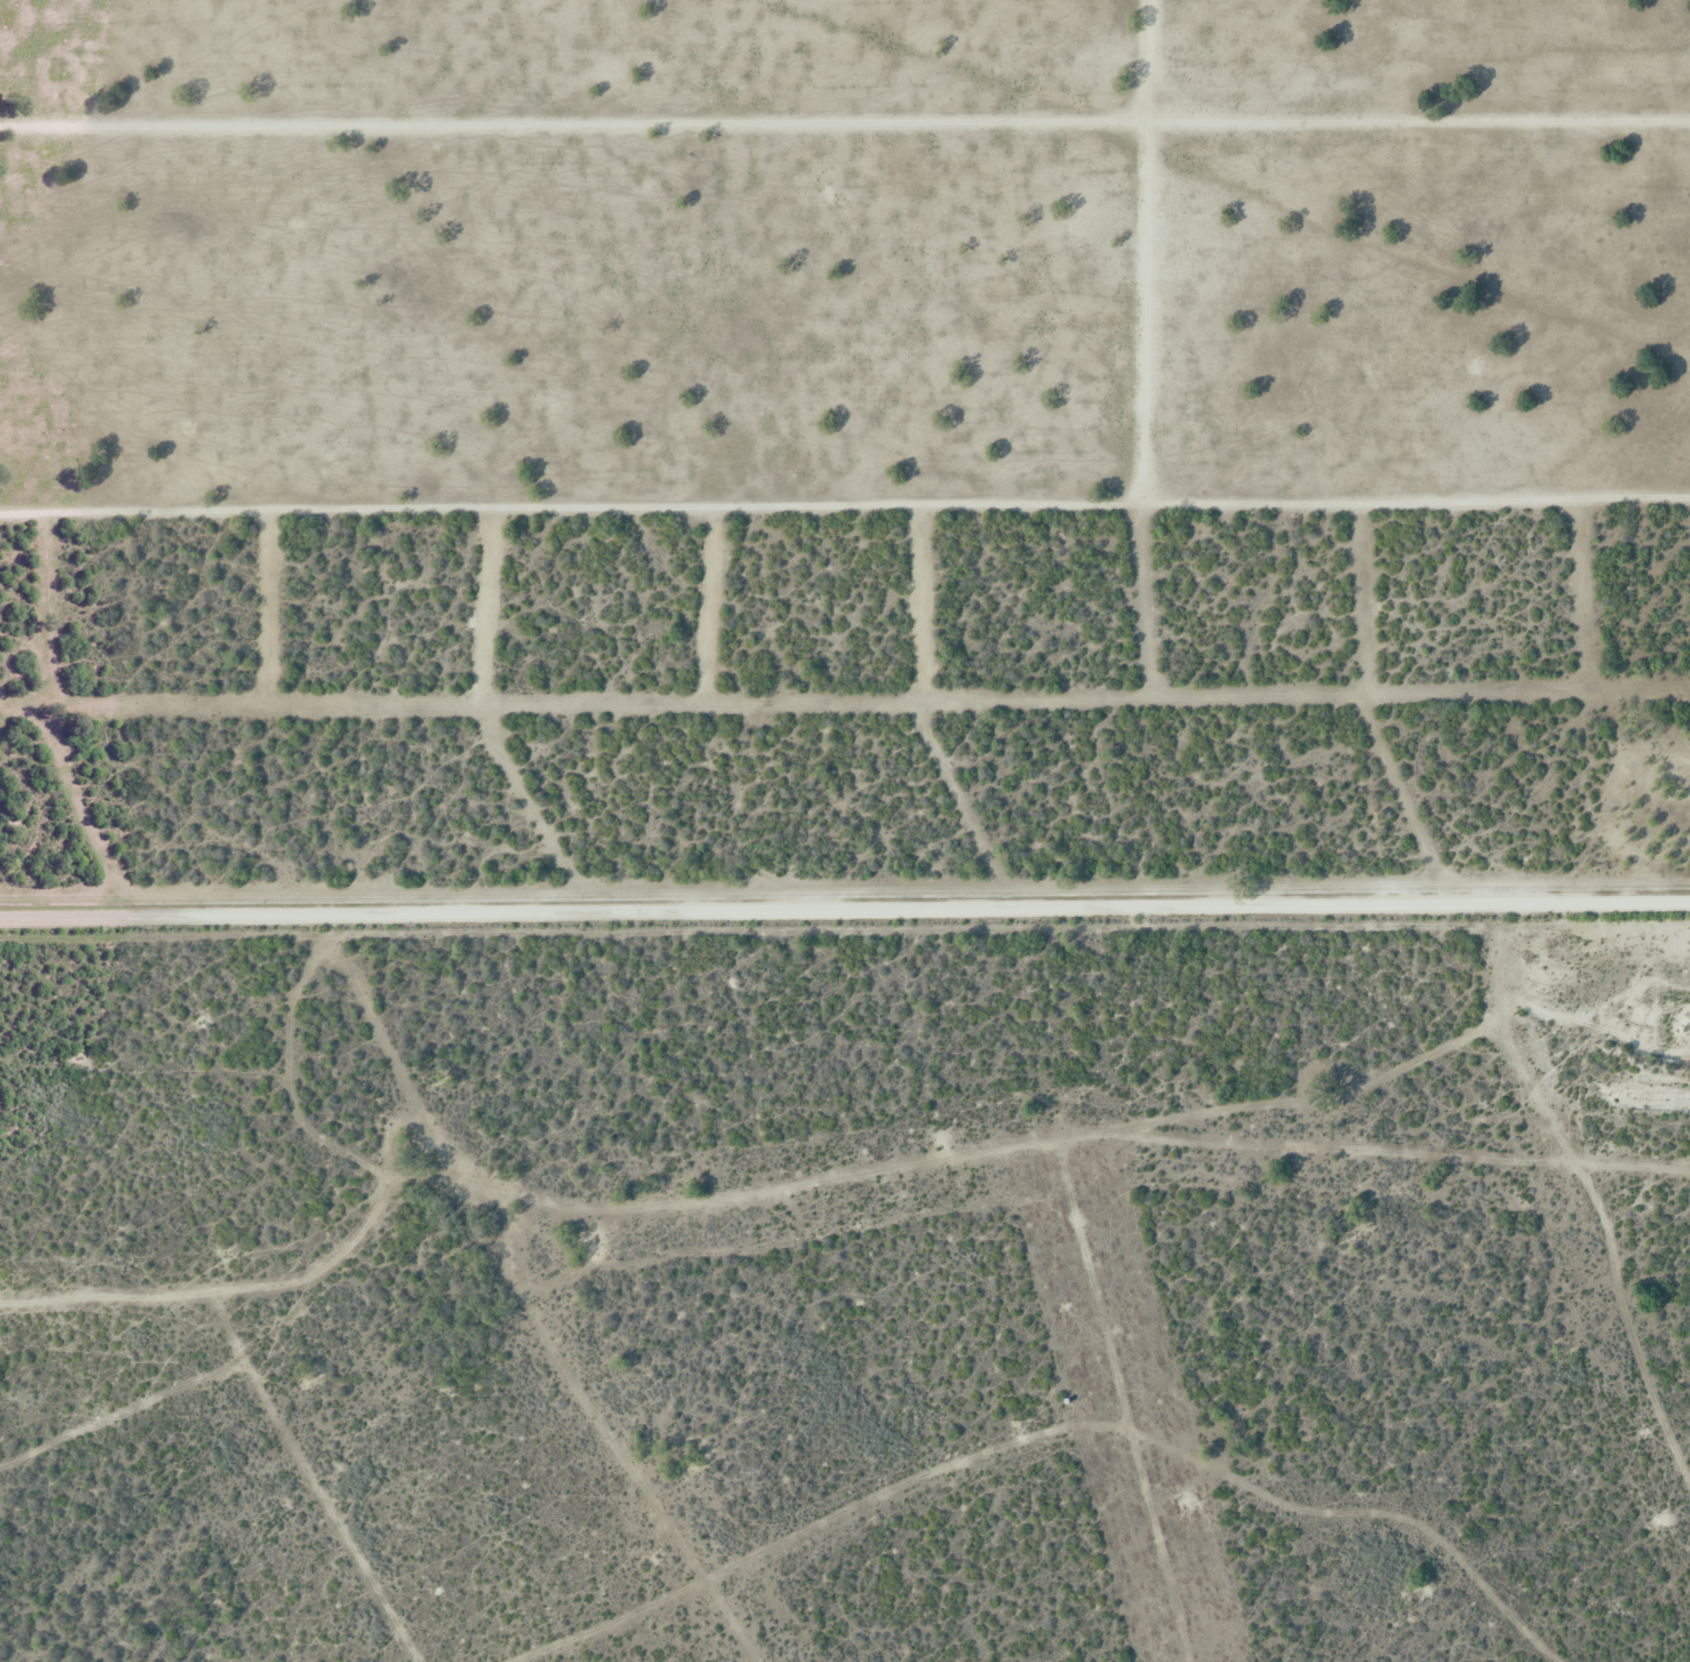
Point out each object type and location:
road: (844, 908)

